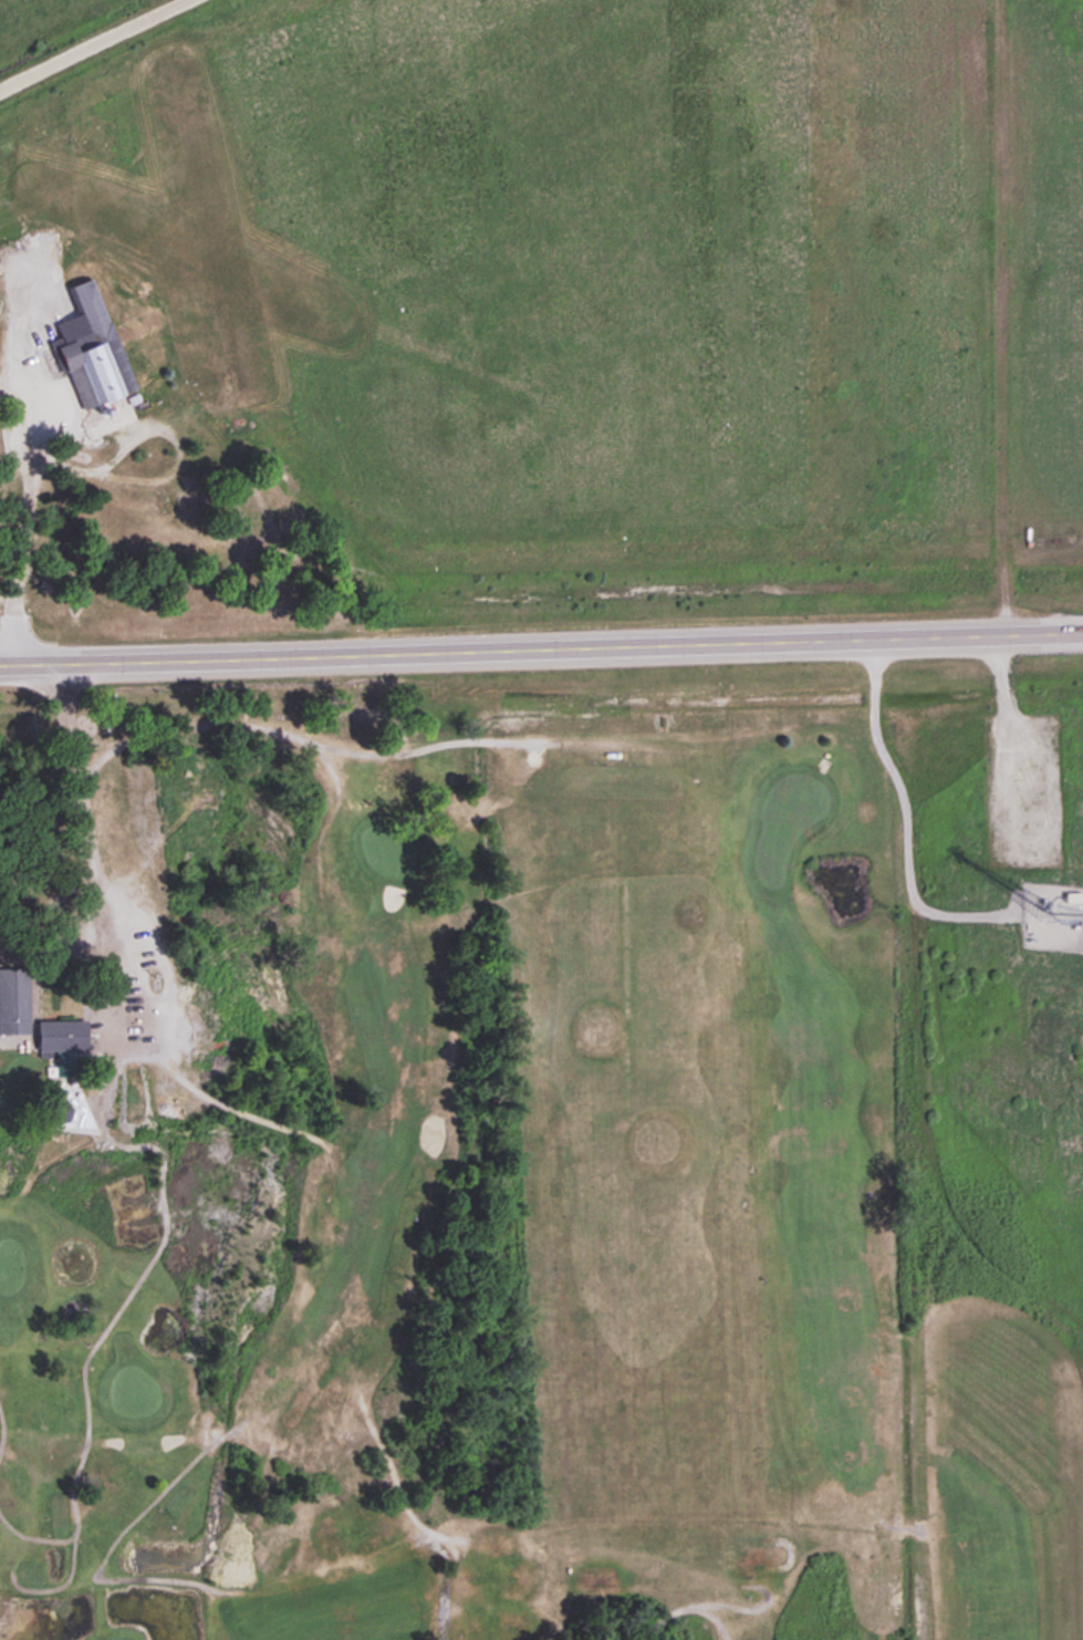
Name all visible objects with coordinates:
road: (91, 42)
building: (90, 347)
road: (20, 516)
road: (541, 644)
building: (1052, 841)
building: (12, 1000)
parking lot: (126, 1021)
building: (55, 1030)
park: (494, 1185)

